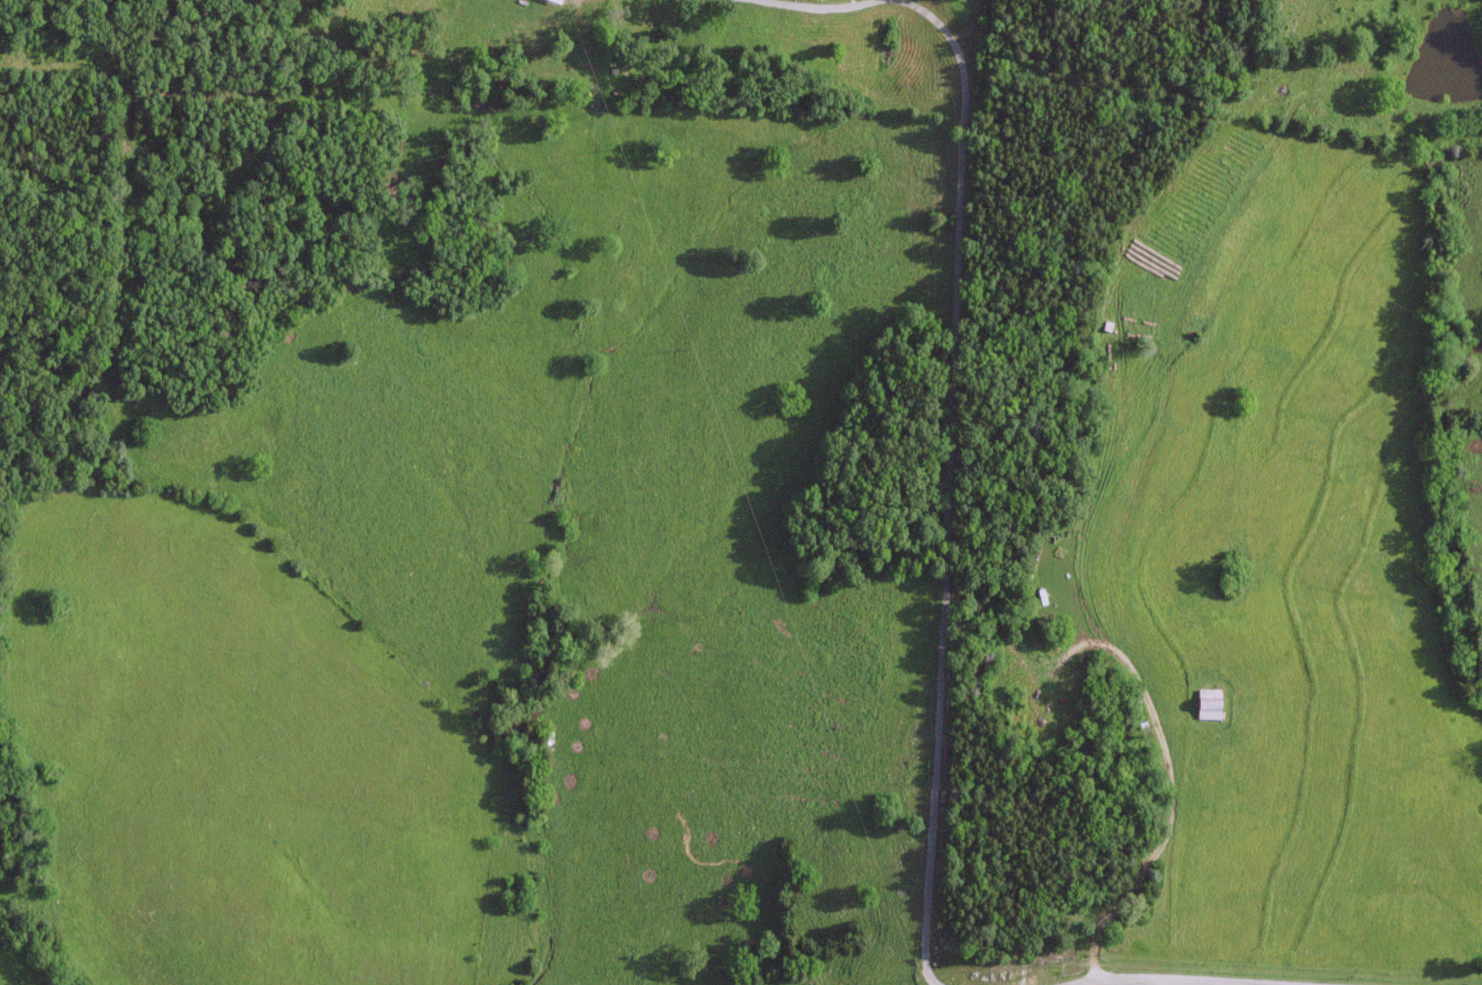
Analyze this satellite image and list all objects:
building: (1205, 704)
road: (1210, 969)

